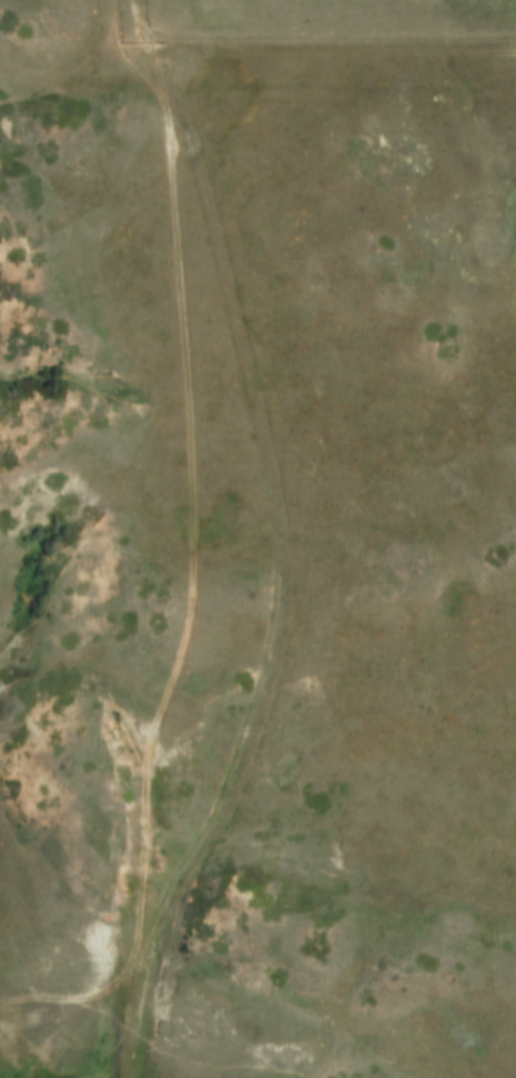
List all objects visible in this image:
road: (331, 44)
road: (191, 554)

